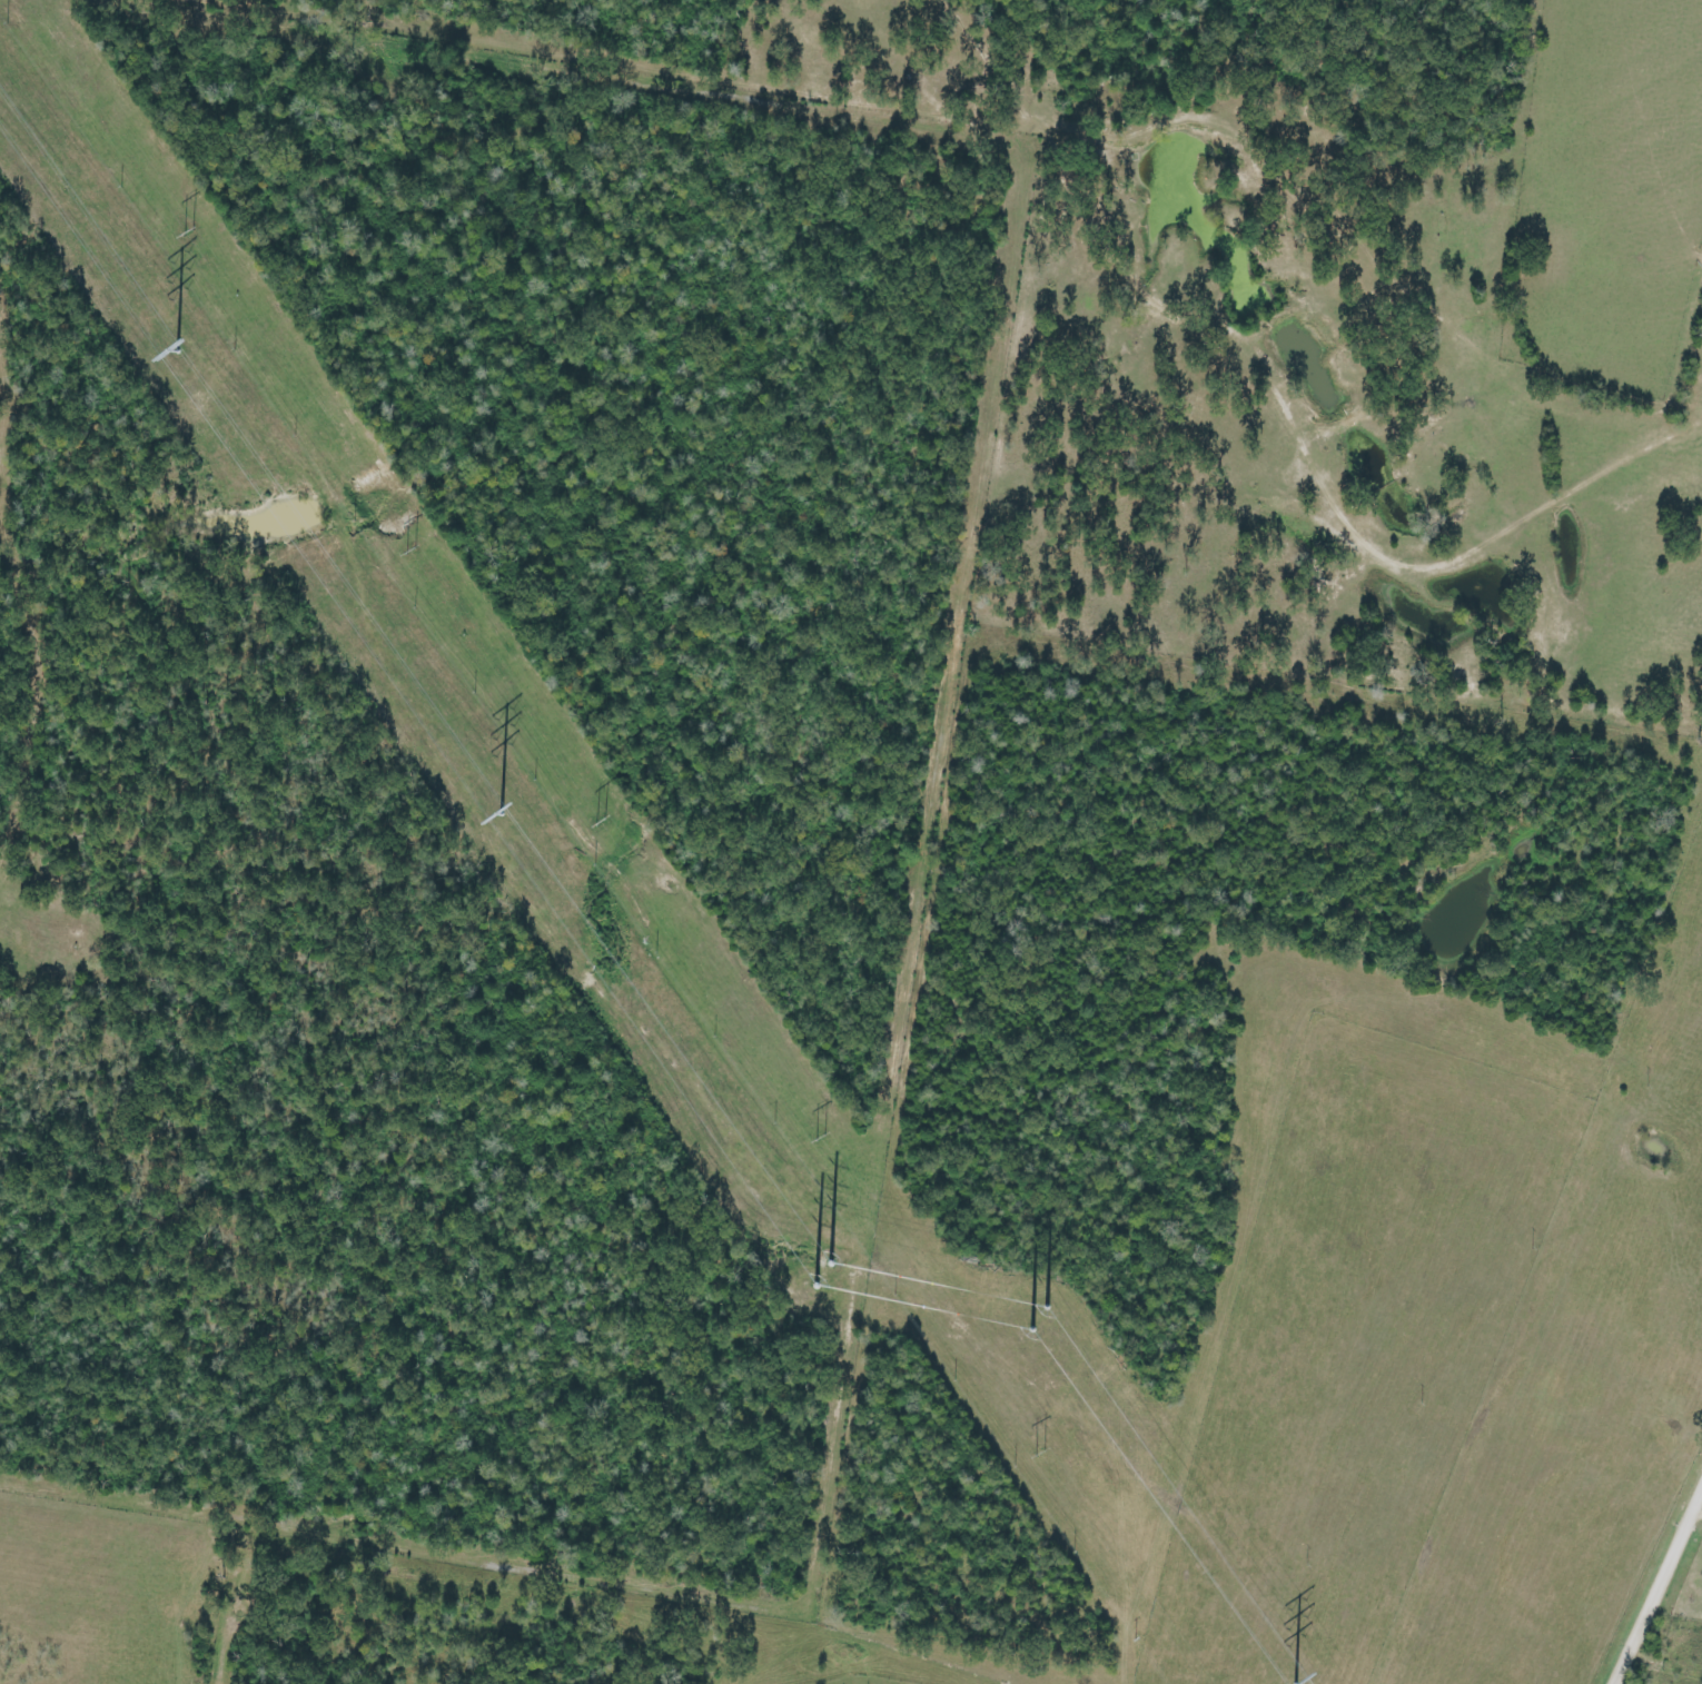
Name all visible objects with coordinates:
power tower: (187, 231)
power tower: (176, 345)
power tower: (410, 551)
power tower: (501, 805)
power tower: (597, 819)
power tower: (815, 1140)
power tower: (820, 1265)
power tower: (1037, 1308)
power tower: (1041, 1452)
road: (1661, 1596)
power tower: (1294, 1677)

